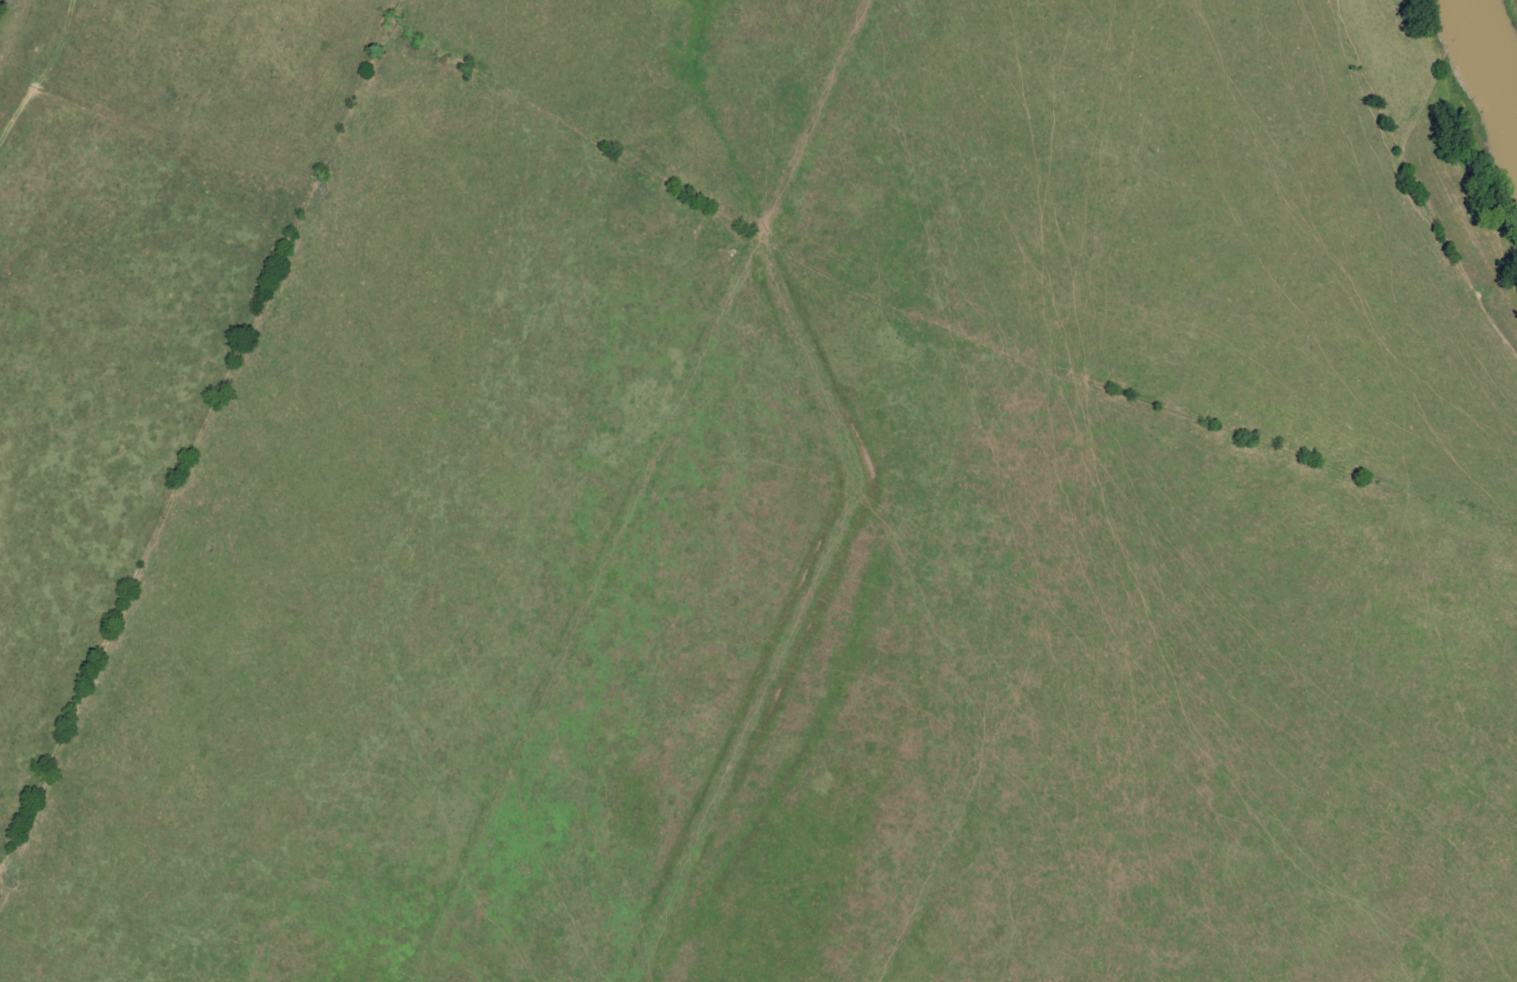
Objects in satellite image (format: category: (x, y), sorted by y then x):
road: (62, 116)

